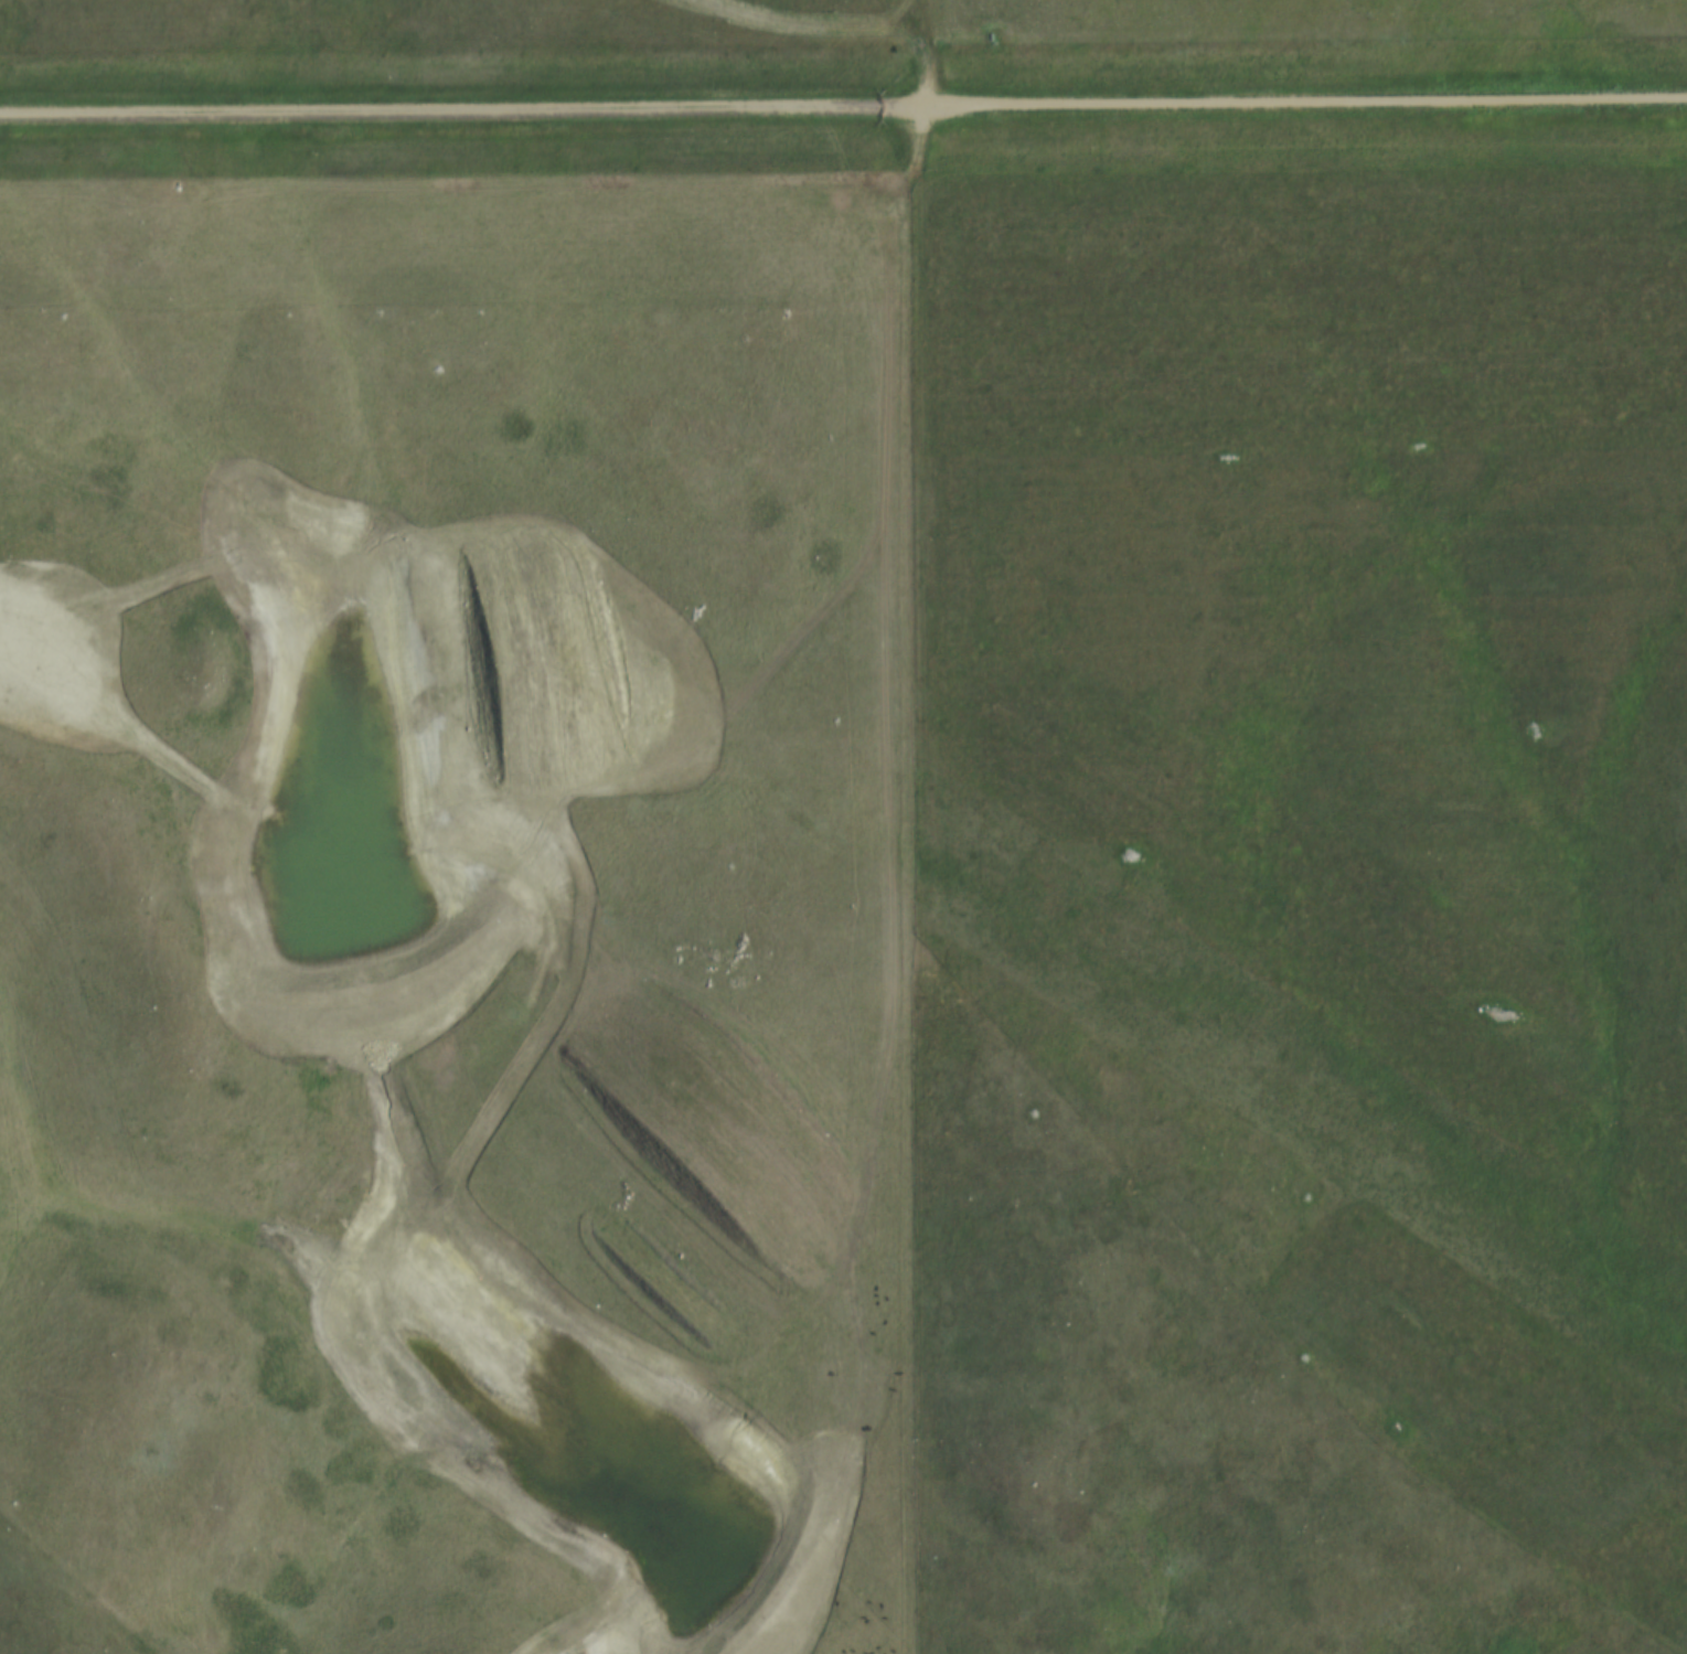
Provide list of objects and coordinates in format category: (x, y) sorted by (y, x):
road: (843, 109)
road: (430, 328)

